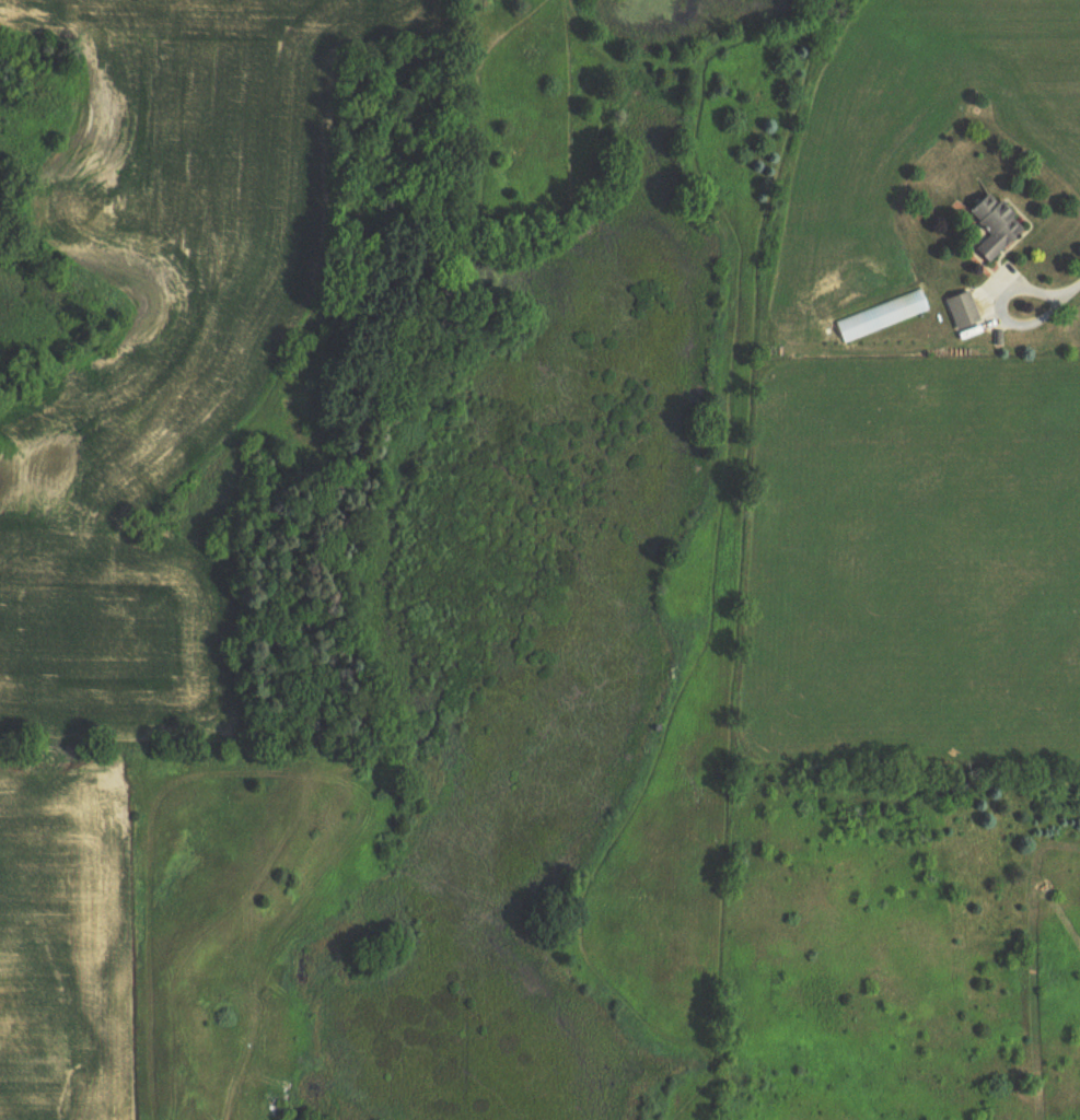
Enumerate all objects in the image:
building: (998, 227)
road: (1055, 300)
building: (964, 312)

